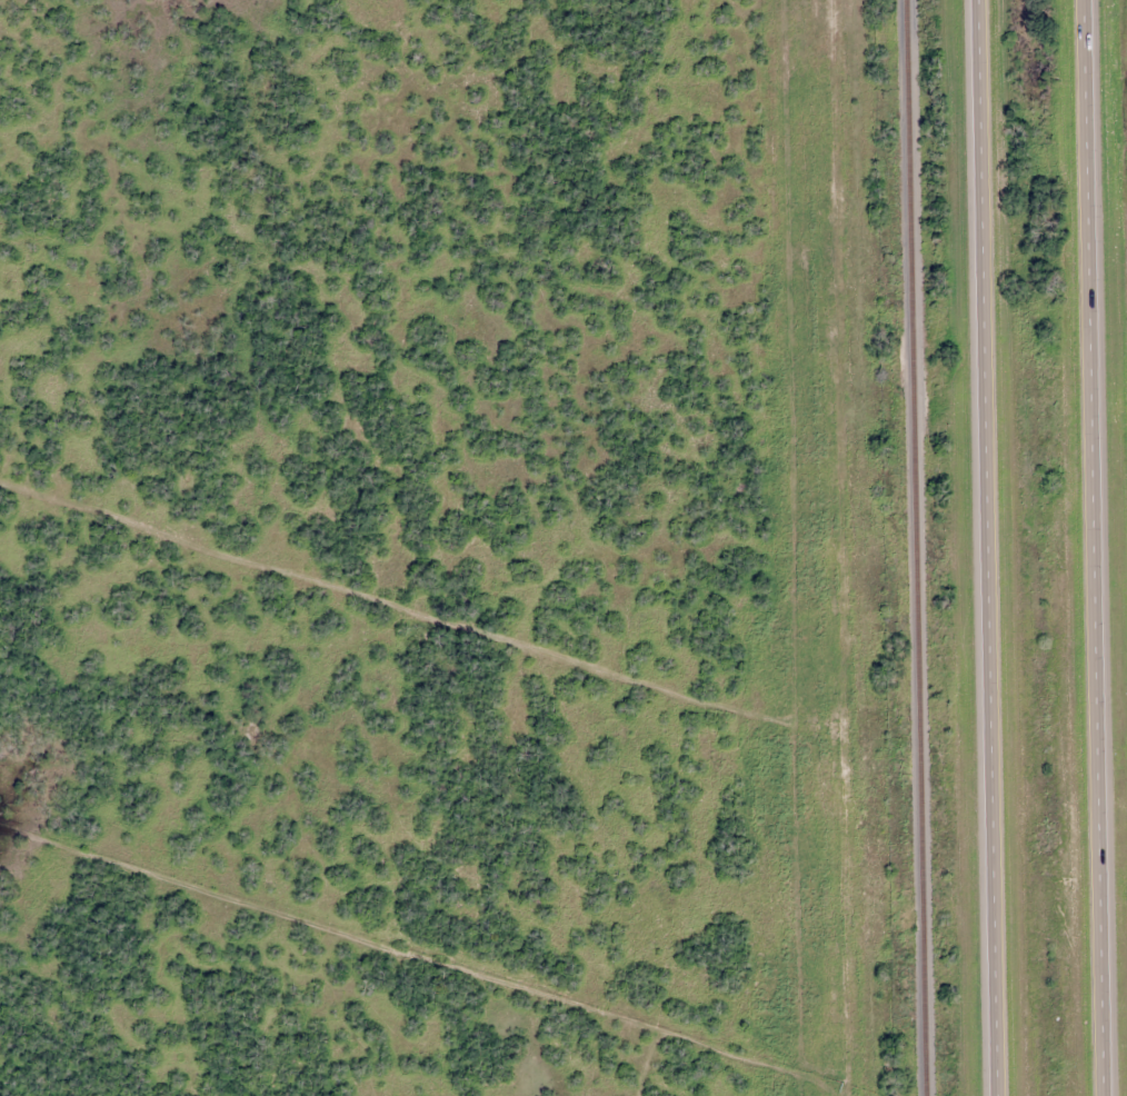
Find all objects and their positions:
railway: (920, 547)
road: (989, 547)
road: (1097, 547)

